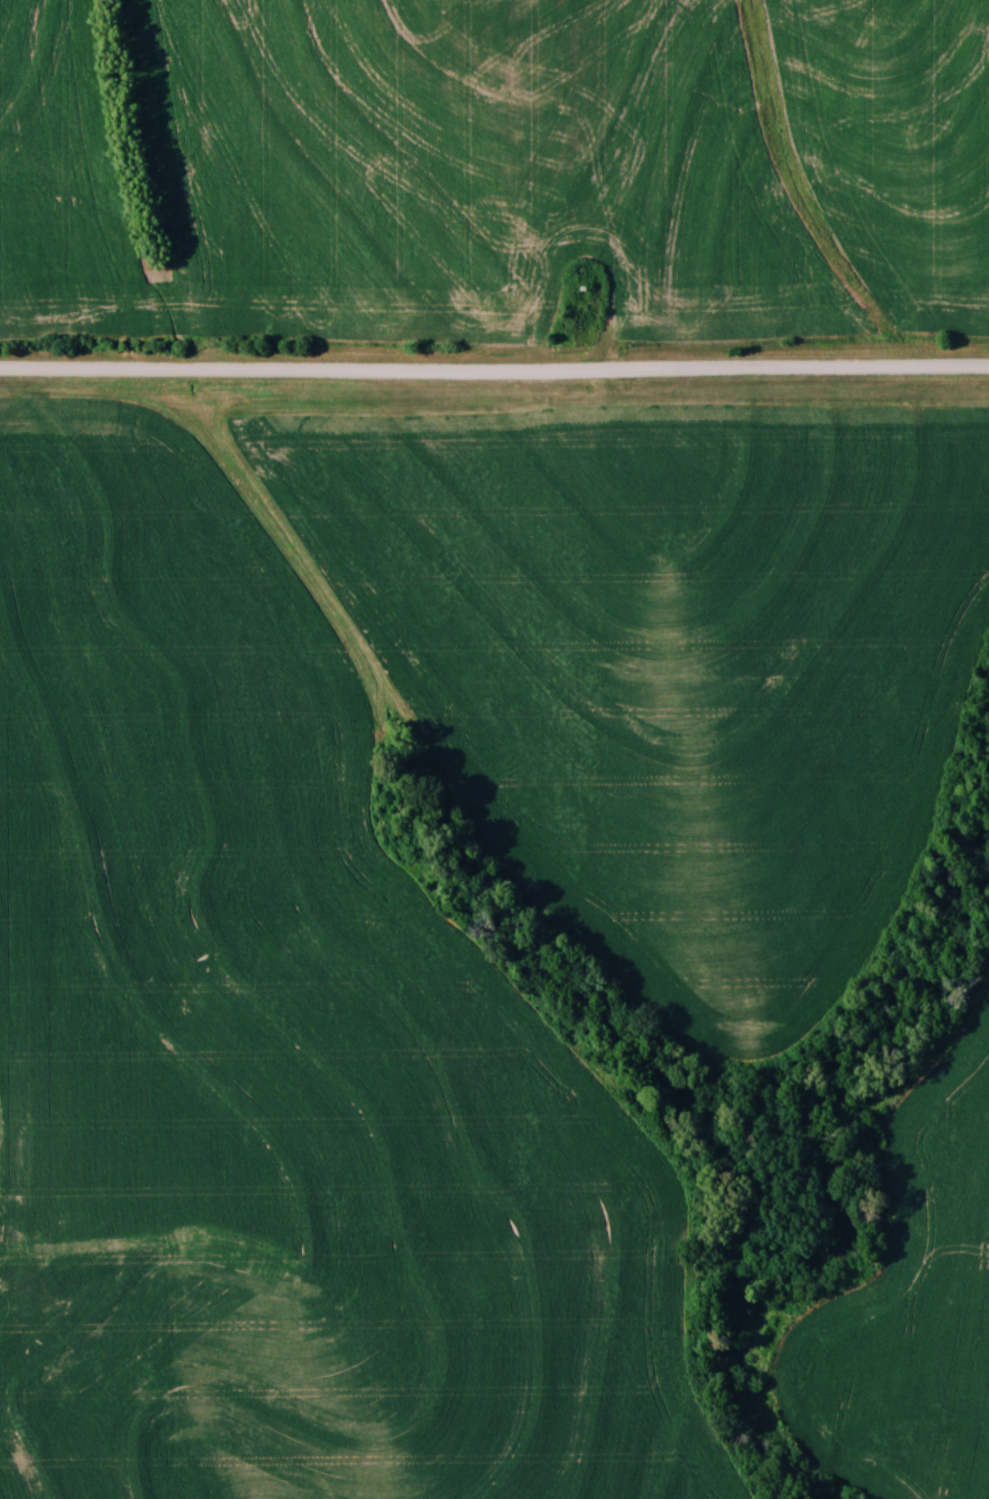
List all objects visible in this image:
road: (494, 377)

